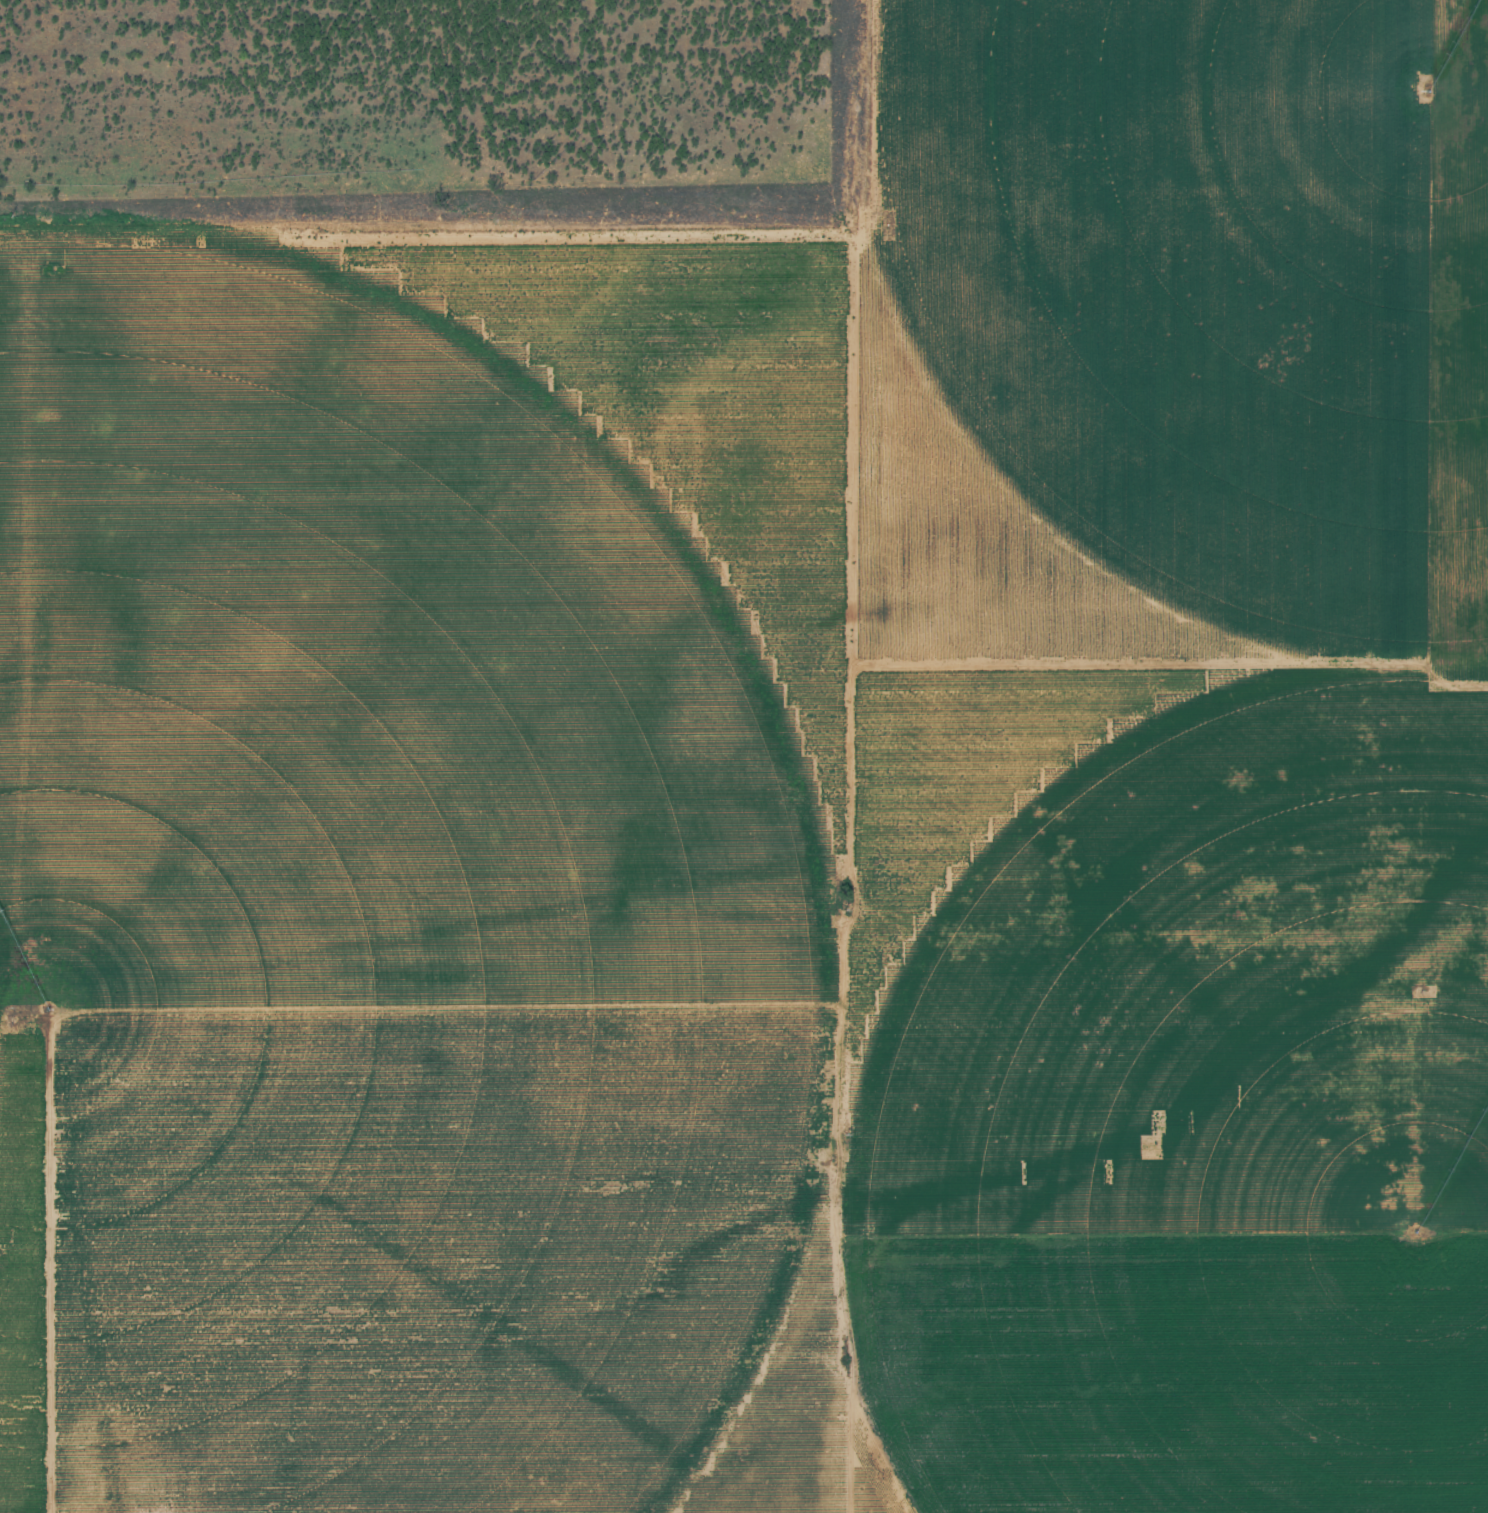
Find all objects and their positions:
road: (20, 689)
road: (914, 997)

